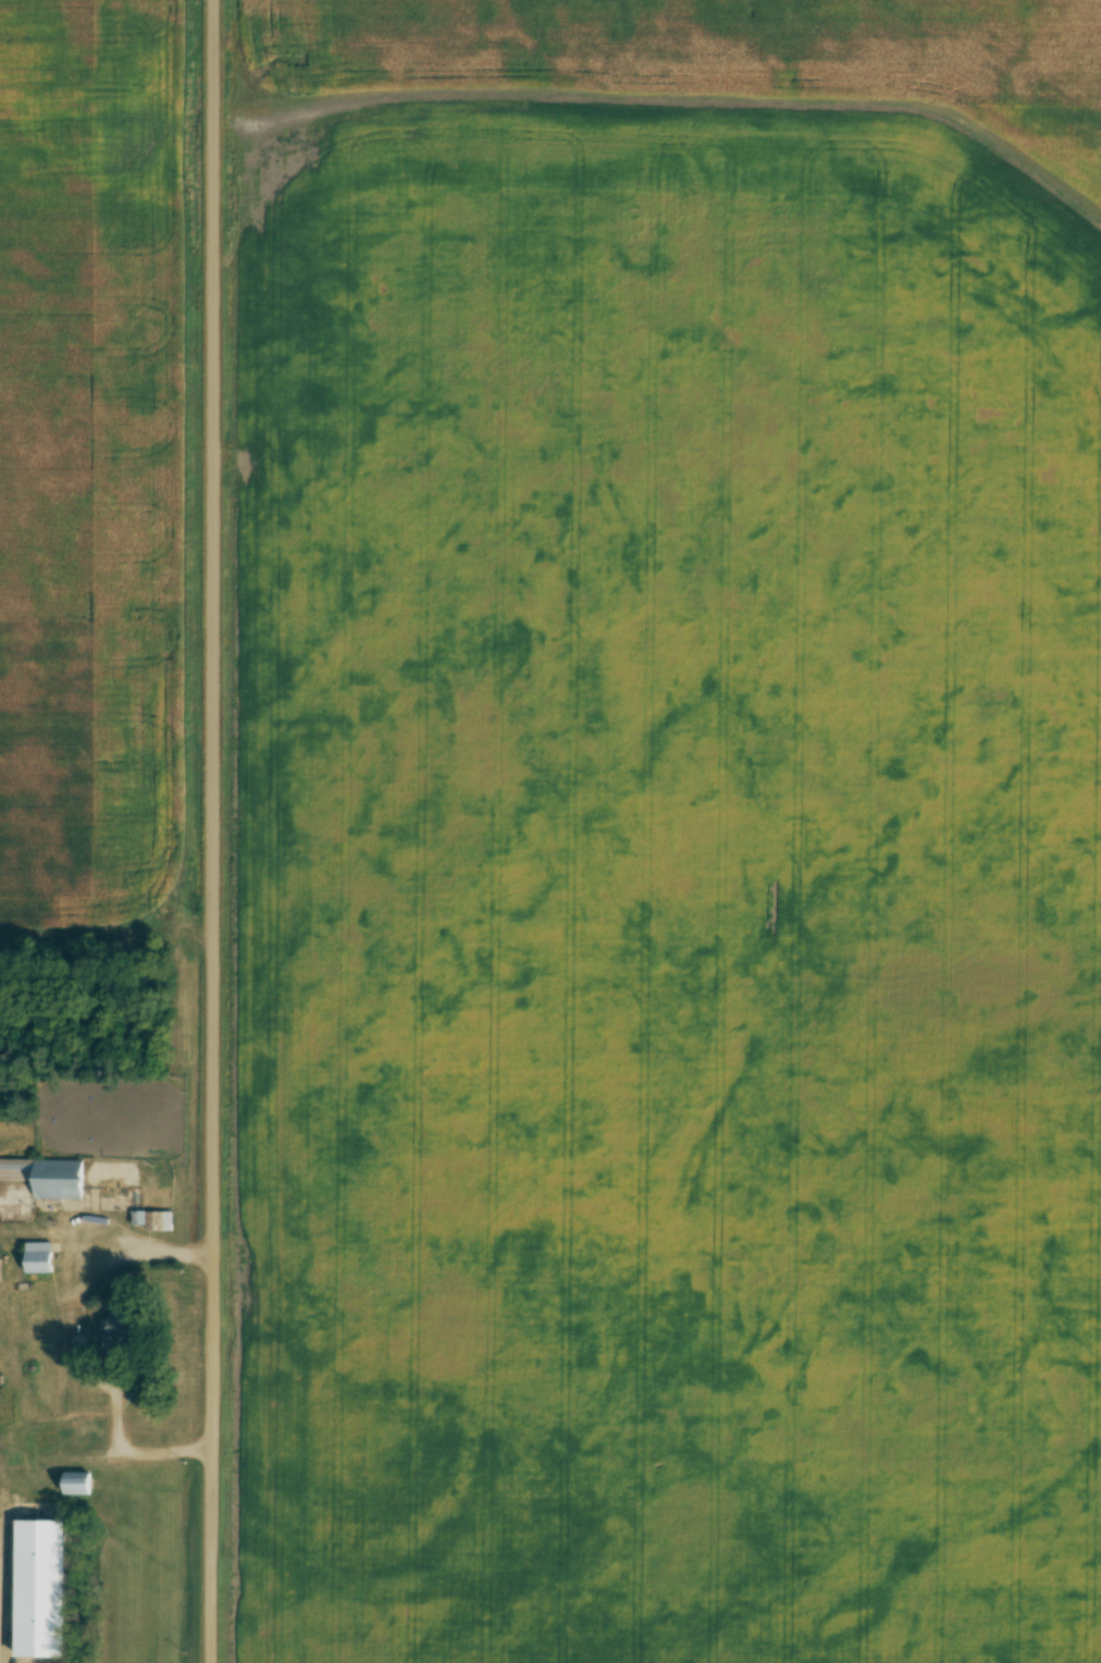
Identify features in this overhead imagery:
road: (209, 830)
building: (46, 1178)
building: (150, 1222)
building: (37, 1259)
building: (121, 1330)
road: (115, 1436)
building: (75, 1485)

